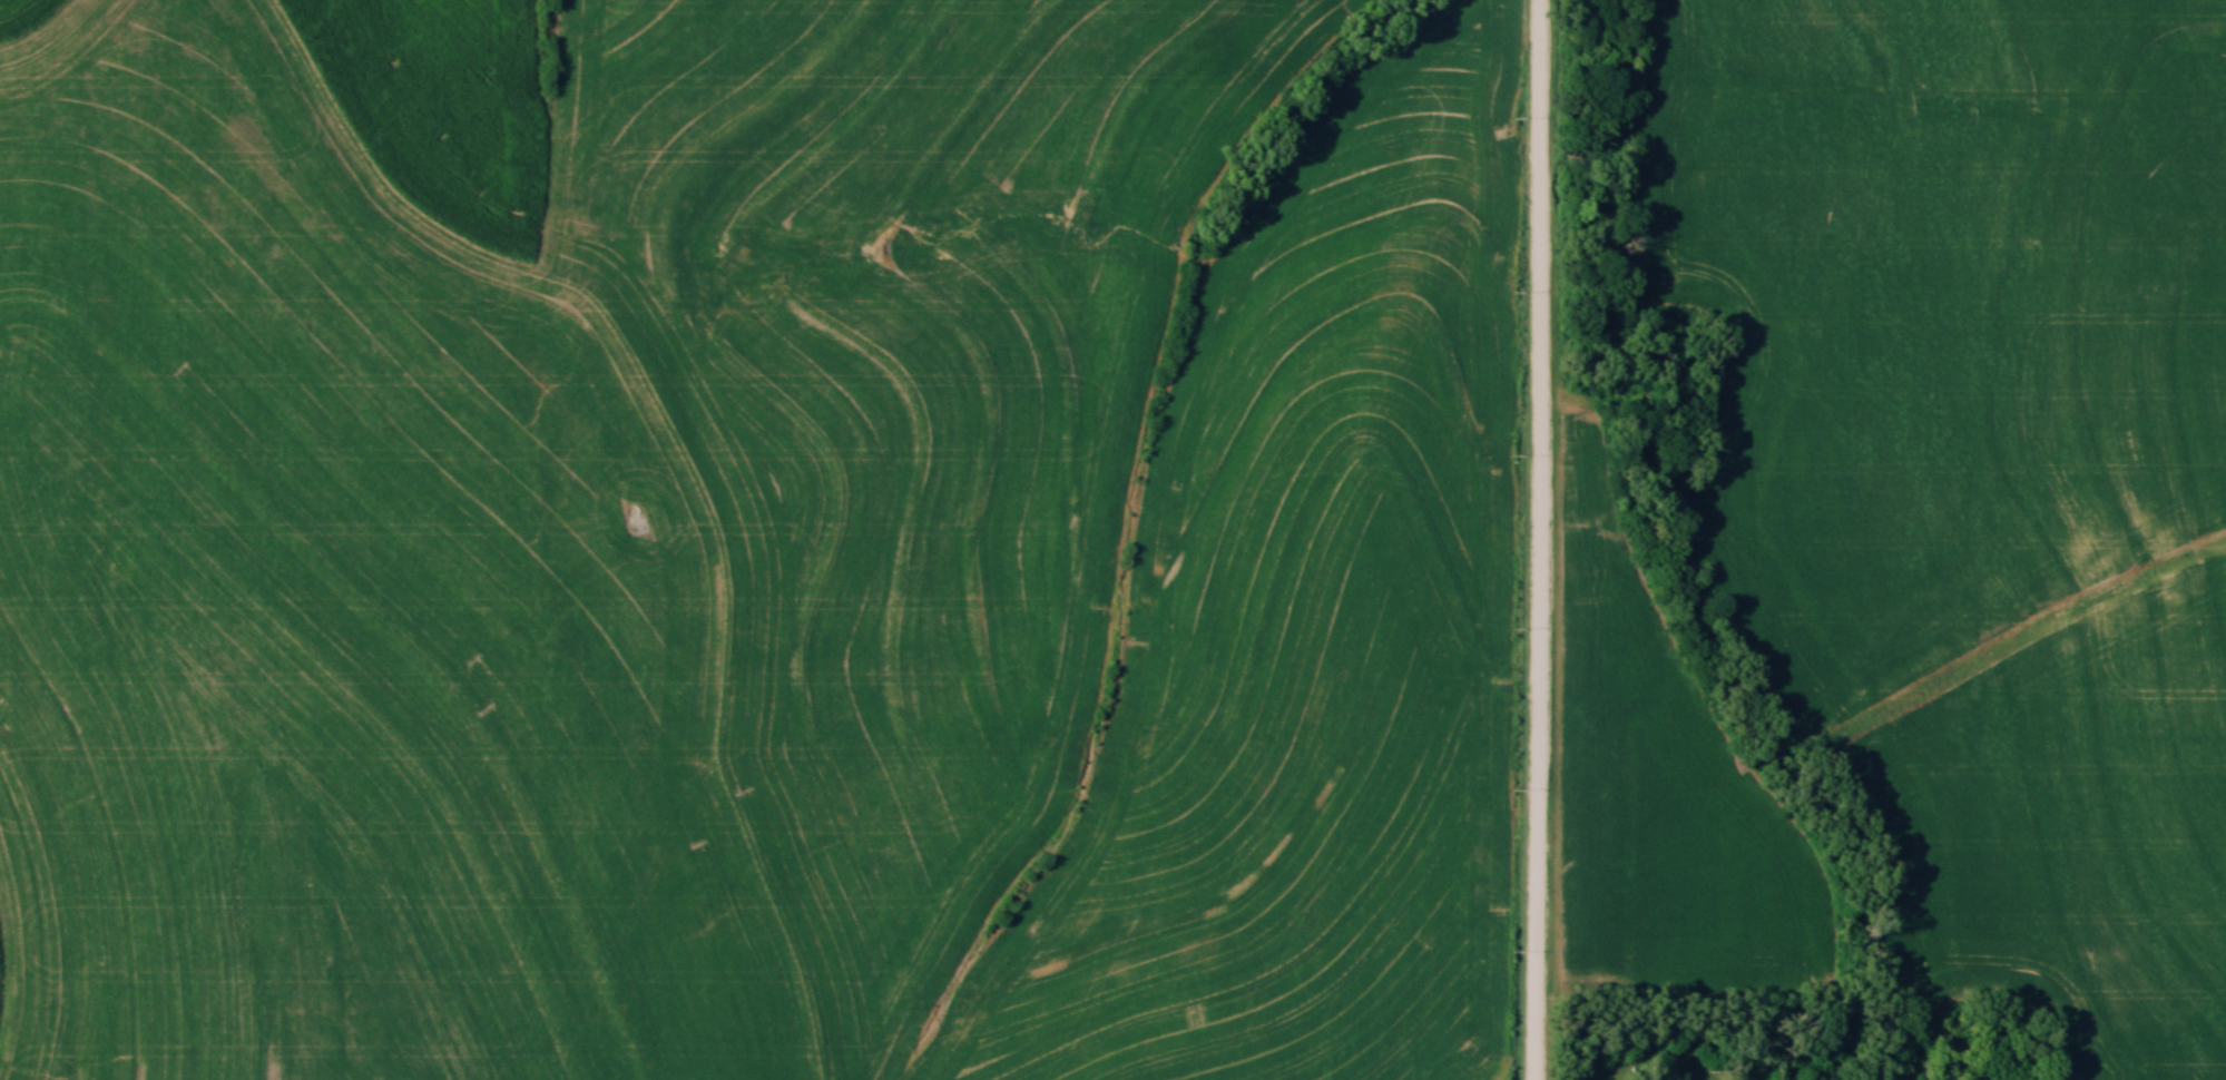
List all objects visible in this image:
road: (1540, 540)

